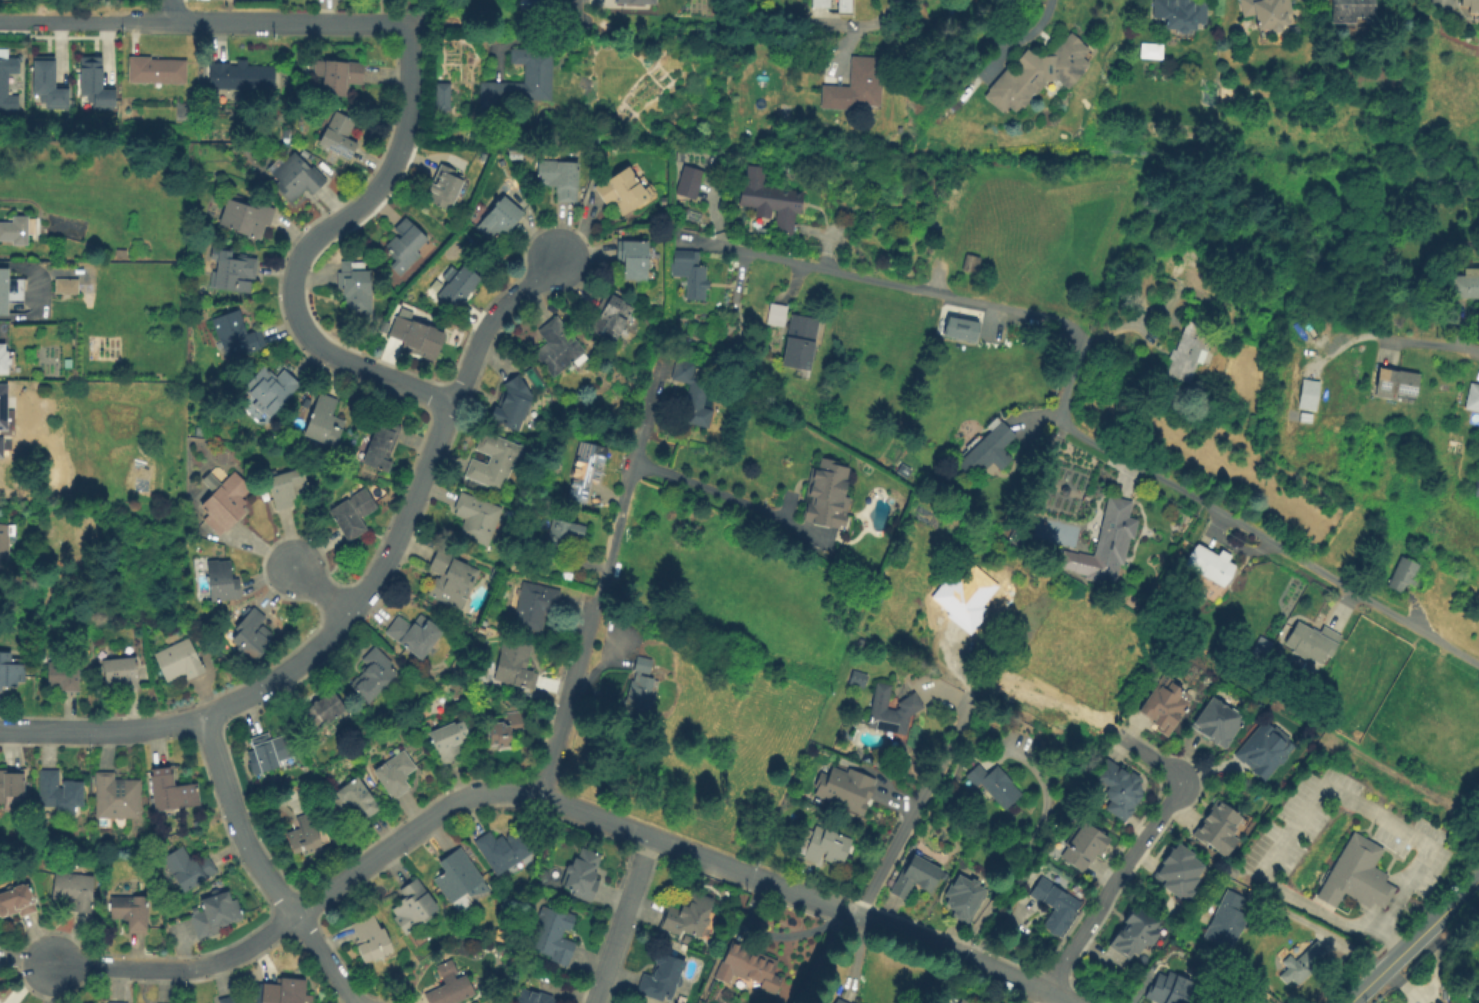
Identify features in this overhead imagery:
building: (632, 1)
building: (821, 3)
building: (623, 5)
building: (1471, 5)
building: (844, 6)
road: (576, 9)
road: (166, 11)
building: (1352, 11)
building: (1180, 13)
building: (1268, 18)
road: (83, 21)
road: (885, 21)
road: (287, 22)
road: (1030, 30)
building: (1295, 30)
building: (156, 71)
building: (537, 73)
building: (337, 75)
building: (240, 77)
building: (1039, 78)
road: (408, 81)
building: (3, 84)
building: (46, 84)
building: (93, 85)
building: (855, 86)
building: (190, 94)
building: (441, 97)
building: (338, 136)
building: (305, 154)
building: (297, 177)
building: (558, 178)
building: (689, 181)
building: (443, 186)
building: (621, 191)
building: (768, 196)
building: (246, 216)
building: (499, 219)
building: (14, 230)
building: (404, 246)
building: (121, 253)
building: (633, 259)
building: (970, 263)
building: (235, 273)
building: (690, 273)
building: (1189, 277)
building: (456, 285)
building: (66, 286)
building: (1463, 286)
building: (355, 287)
building: (9, 291)
road: (294, 296)
building: (776, 314)
building: (610, 317)
road: (489, 319)
building: (384, 326)
road: (1113, 328)
building: (962, 329)
building: (236, 335)
building: (417, 338)
building: (799, 342)
building: (557, 346)
road: (1436, 346)
building: (1185, 350)
building: (3, 360)
building: (1397, 384)
building: (270, 390)
building: (693, 392)
building: (1306, 394)
building: (1473, 397)
building: (512, 404)
building: (5, 411)
road: (1064, 416)
building: (324, 422)
building: (381, 445)
building: (0, 447)
building: (986, 451)
building: (495, 461)
road: (636, 467)
building: (585, 471)
building: (1477, 486)
building: (286, 488)
building: (824, 494)
road: (721, 497)
building: (224, 502)
building: (353, 513)
building: (476, 518)
building: (560, 537)
building: (1113, 539)
building: (4, 541)
building: (493, 574)
building: (1208, 574)
building: (1403, 574)
building: (450, 578)
building: (222, 581)
road: (323, 590)
road: (363, 591)
building: (971, 594)
building: (534, 607)
building: (413, 634)
building: (251, 636)
building: (1312, 642)
building: (1261, 648)
building: (179, 662)
building: (514, 665)
building: (10, 669)
building: (120, 673)
building: (373, 673)
building: (62, 675)
building: (857, 679)
building: (639, 690)
road: (571, 695)
building: (1165, 704)
building: (891, 710)
building: (321, 712)
building: (1218, 723)
building: (505, 730)
road: (101, 735)
building: (448, 741)
road: (1353, 749)
building: (1264, 750)
building: (270, 751)
road: (1153, 760)
building: (394, 774)
building: (994, 784)
building: (10, 787)
building: (1121, 789)
road: (1322, 790)
building: (171, 791)
building: (846, 791)
building: (58, 793)
building: (116, 797)
building: (352, 799)
road: (913, 817)
road: (238, 819)
building: (1220, 828)
road: (410, 830)
building: (302, 836)
building: (824, 845)
building: (1084, 847)
building: (503, 850)
road: (1021, 854)
road: (699, 857)
building: (188, 867)
building: (1181, 868)
building: (1232, 871)
building: (1354, 874)
building: (582, 875)
building: (916, 875)
road: (1396, 875)
building: (543, 878)
building: (459, 879)
road: (1109, 886)
building: (72, 891)
road: (1381, 893)
building: (964, 897)
building: (16, 901)
building: (1056, 905)
building: (413, 906)
building: (130, 912)
building: (215, 914)
building: (688, 915)
road: (1368, 915)
road: (624, 921)
building: (1226, 921)
building: (1136, 931)
building: (553, 935)
road: (1389, 937)
building: (371, 939)
road: (1412, 939)
building: (686, 940)
road: (960, 956)
road: (825, 957)
road: (325, 958)
building: (1301, 964)
building: (748, 967)
road: (180, 969)
building: (662, 978)
building: (449, 986)
building: (1173, 990)
building: (284, 991)
road: (1027, 995)
building: (535, 998)
building: (229, 1000)
building: (839, 1000)
building: (964, 1001)
building: (853, 1002)

